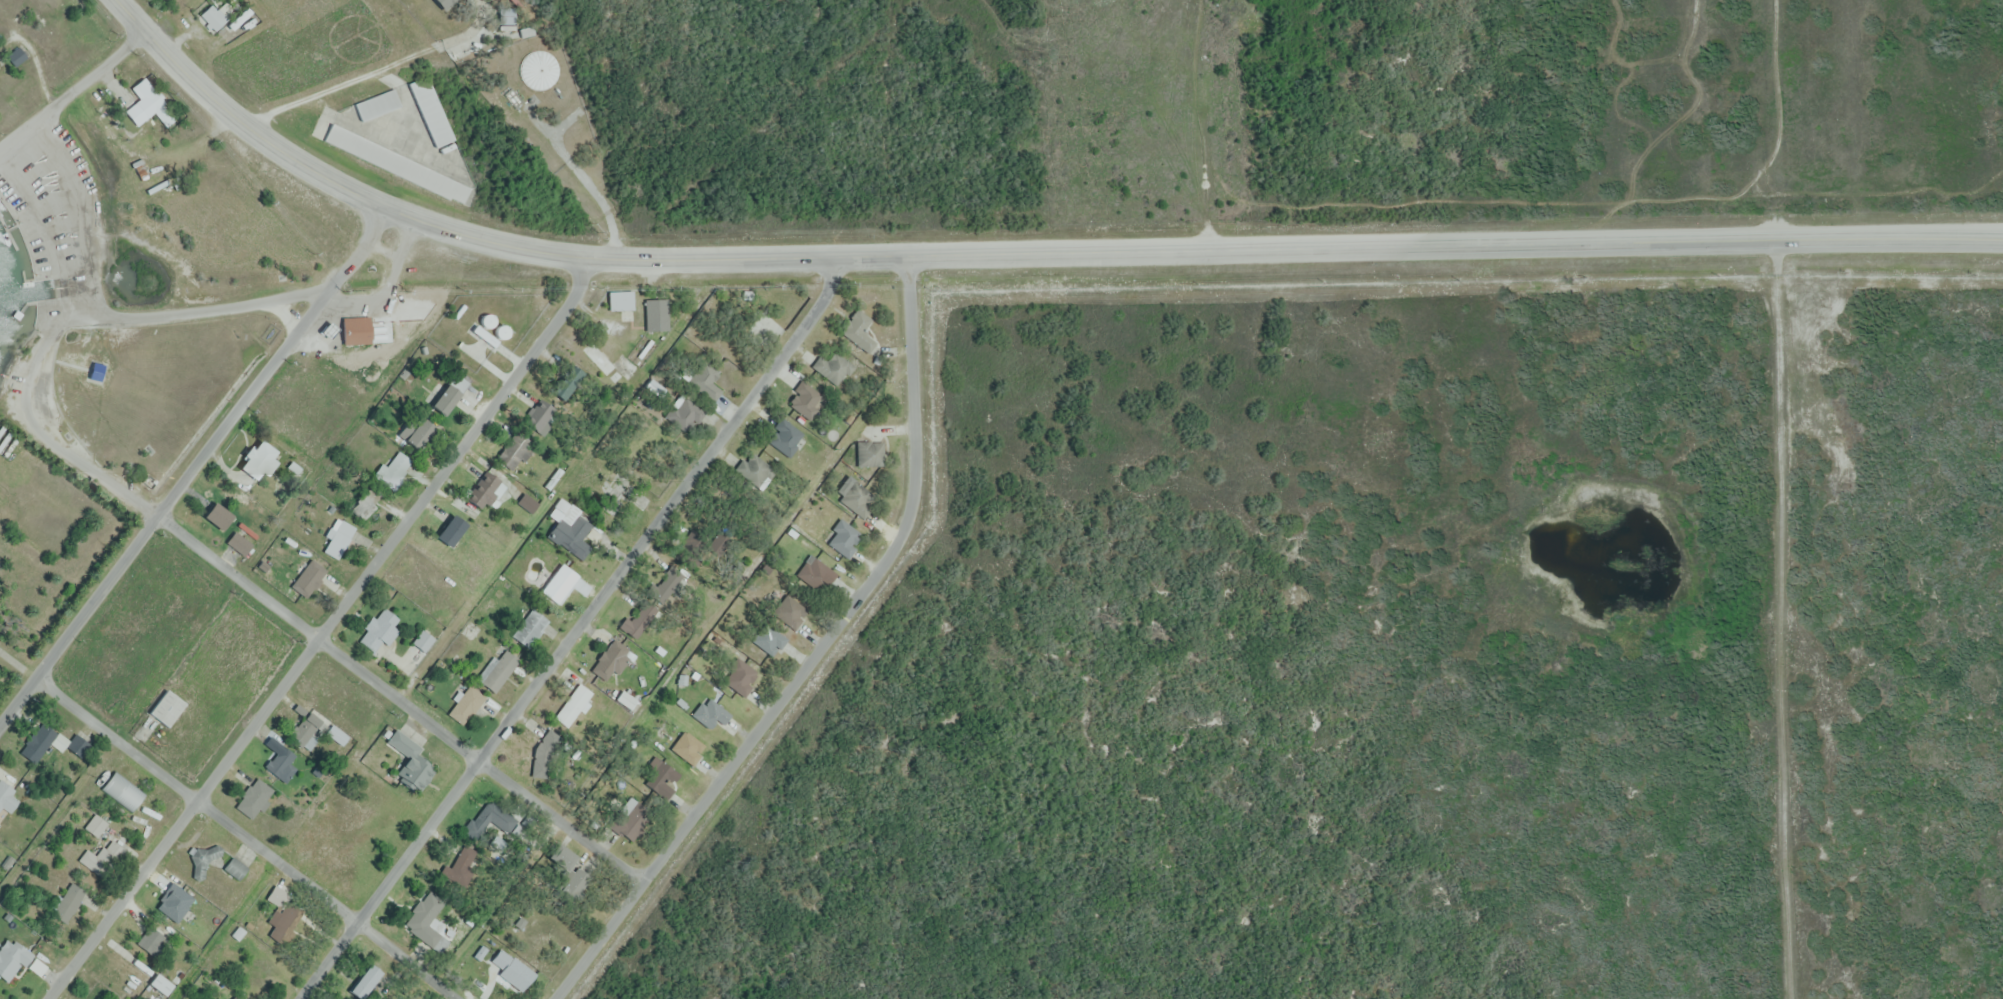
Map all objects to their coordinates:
building: (443, 3)
building: (223, 13)
building: (16, 56)
road: (79, 89)
building: (151, 101)
building: (377, 104)
building: (431, 111)
building: (396, 163)
road: (1024, 255)
road: (96, 286)
building: (620, 300)
road: (214, 306)
building: (657, 313)
building: (355, 330)
building: (858, 330)
building: (603, 362)
building: (833, 367)
building: (96, 372)
building: (565, 381)
building: (706, 381)
building: (449, 393)
building: (804, 399)
building: (685, 414)
building: (538, 415)
building: (418, 433)
building: (785, 437)
building: (515, 453)
building: (870, 453)
building: (258, 459)
road: (194, 467)
building: (395, 467)
building: (755, 470)
building: (486, 490)
building: (366, 499)
building: (858, 499)
building: (528, 501)
building: (217, 515)
building: (569, 519)
building: (450, 529)
road: (186, 536)
building: (337, 536)
building: (843, 537)
building: (239, 543)
building: (719, 546)
building: (815, 572)
building: (309, 576)
building: (789, 612)
building: (638, 618)
building: (529, 627)
building: (379, 630)
road: (324, 631)
road: (576, 632)
building: (768, 639)
building: (423, 640)
road: (815, 655)
road: (18, 665)
building: (500, 670)
building: (739, 676)
building: (467, 702)
building: (573, 704)
building: (165, 707)
building: (710, 713)
building: (306, 728)
building: (53, 743)
building: (687, 746)
building: (544, 753)
building: (280, 760)
building: (409, 761)
road: (481, 761)
building: (659, 776)
building: (122, 790)
building: (253, 796)
building: (7, 797)
building: (629, 821)
building: (95, 825)
building: (490, 825)
road: (249, 837)
building: (102, 858)
building: (203, 859)
building: (235, 868)
building: (568, 871)
building: (457, 873)
building: (277, 895)
building: (67, 902)
building: (427, 919)
building: (152, 942)
building: (11, 958)
building: (364, 981)
building: (160, 984)
building: (234, 997)

